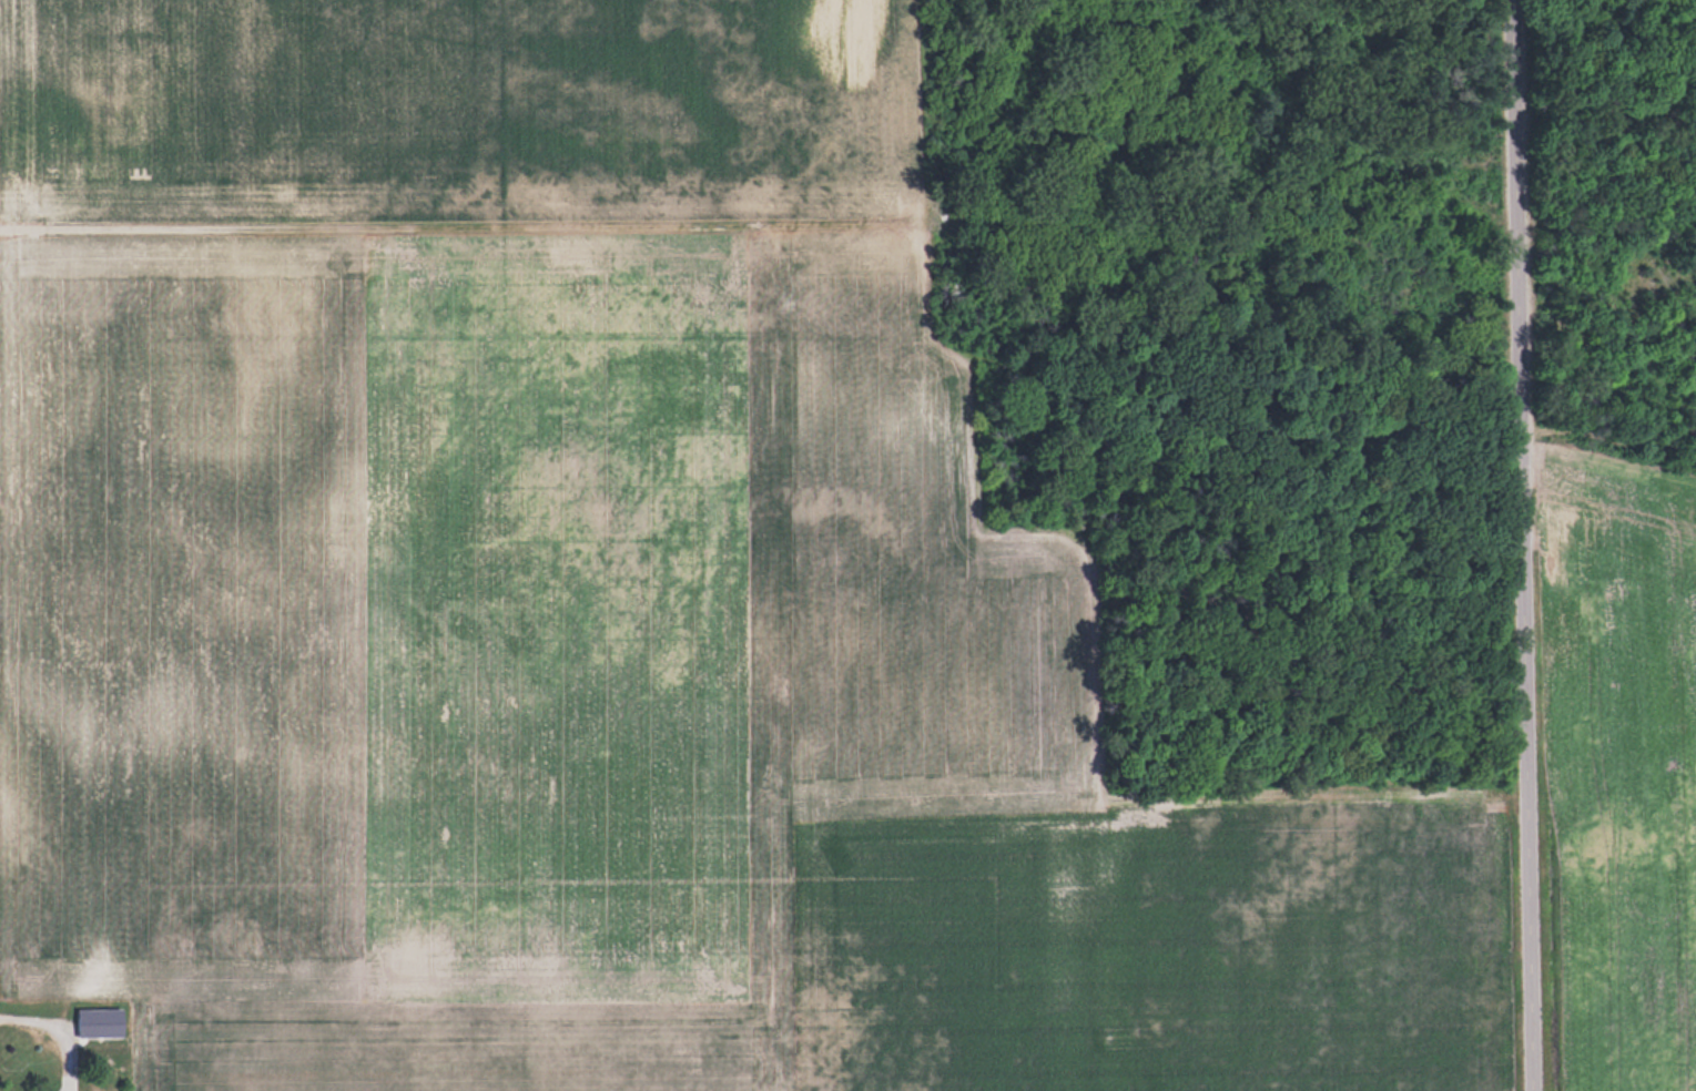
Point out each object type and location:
road: (1524, 544)

